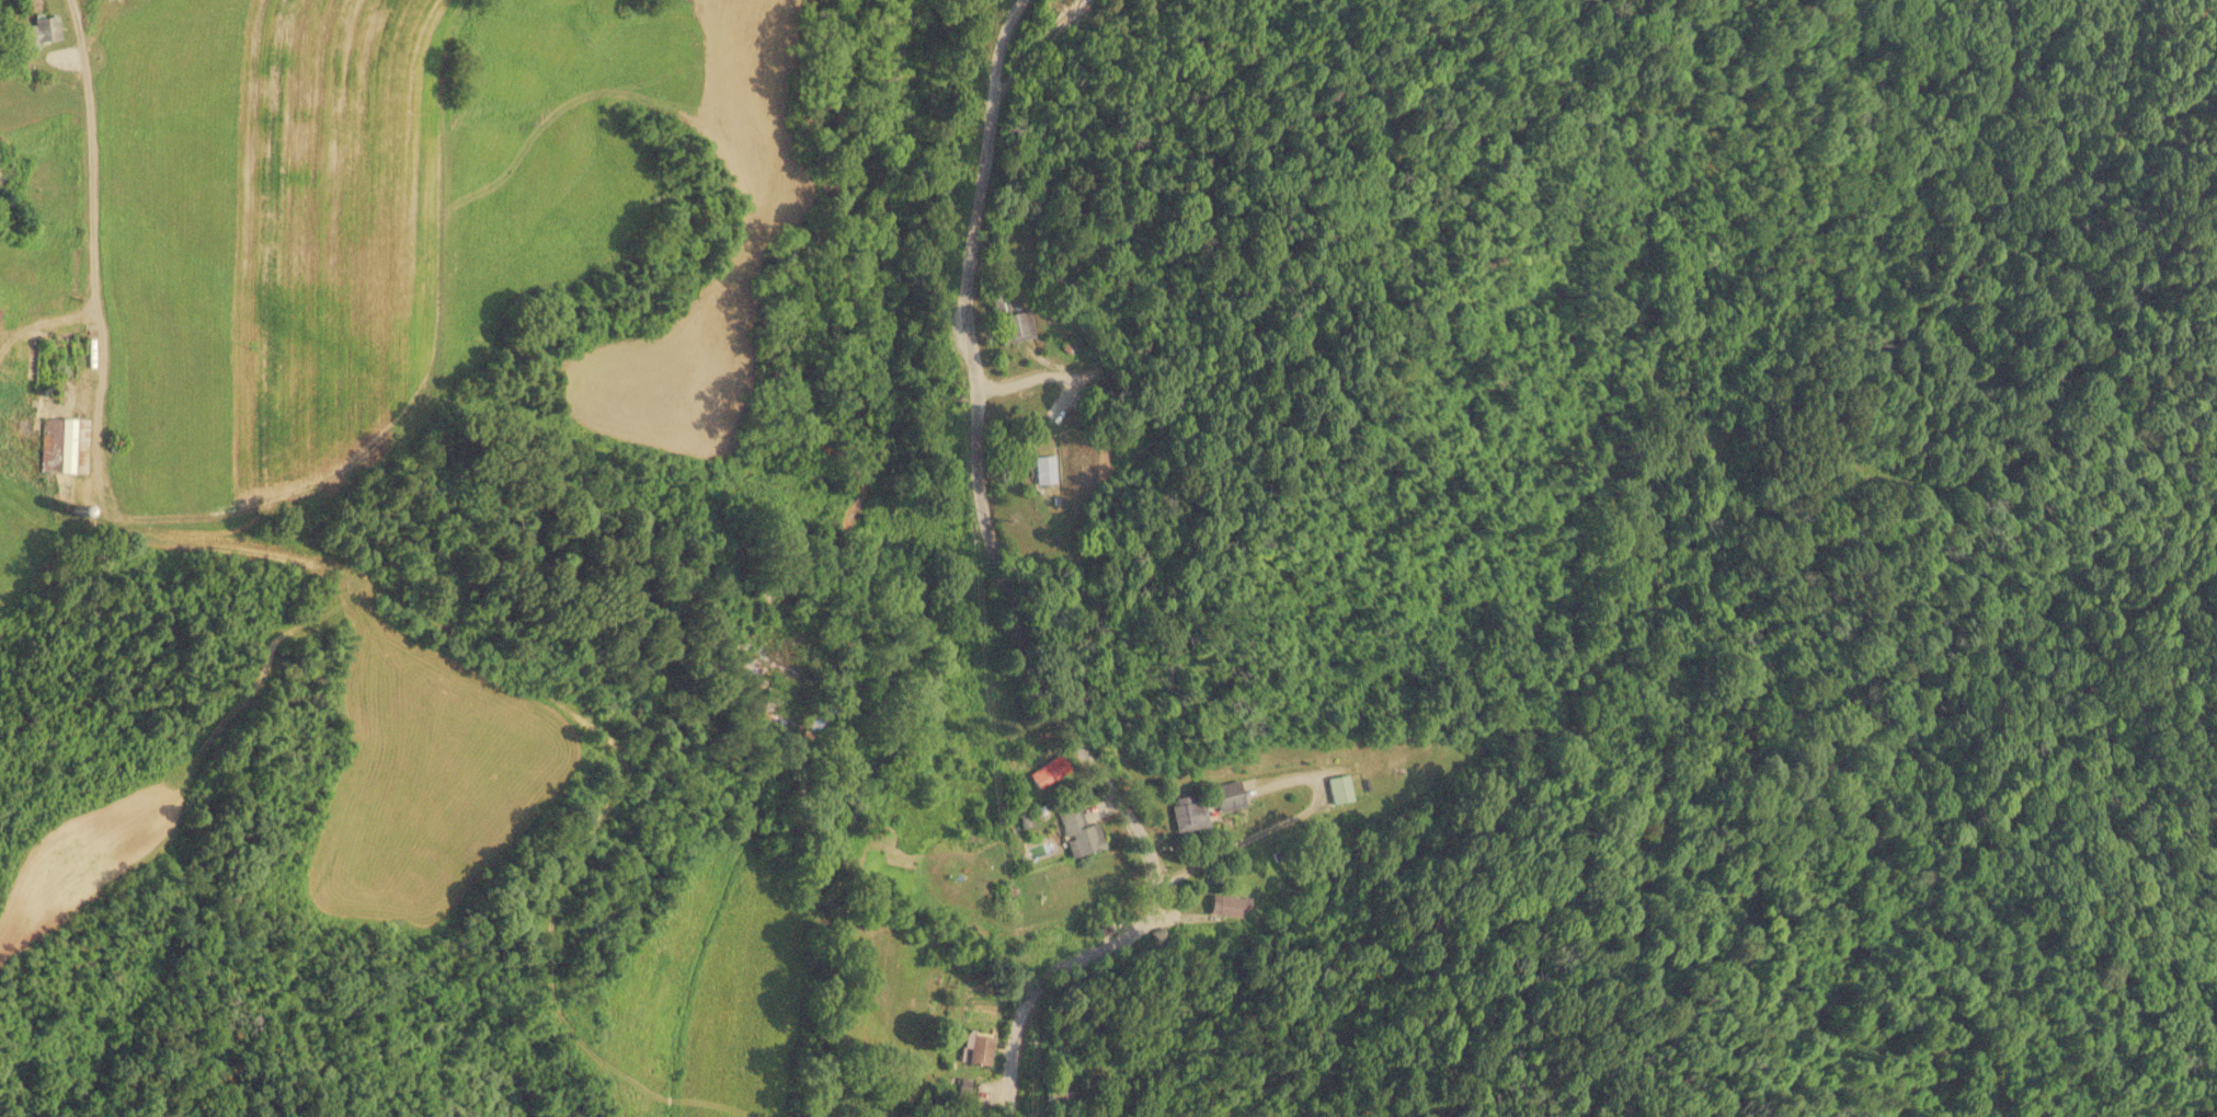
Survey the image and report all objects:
building: (43, 31)
road: (98, 99)
building: (1002, 297)
building: (0, 312)
building: (1014, 329)
building: (73, 447)
building: (1045, 470)
road: (998, 612)
building: (1049, 772)
building: (1341, 790)
building: (1230, 797)
building: (1189, 815)
building: (1081, 834)
building: (978, 1050)
building: (1060, 1093)

